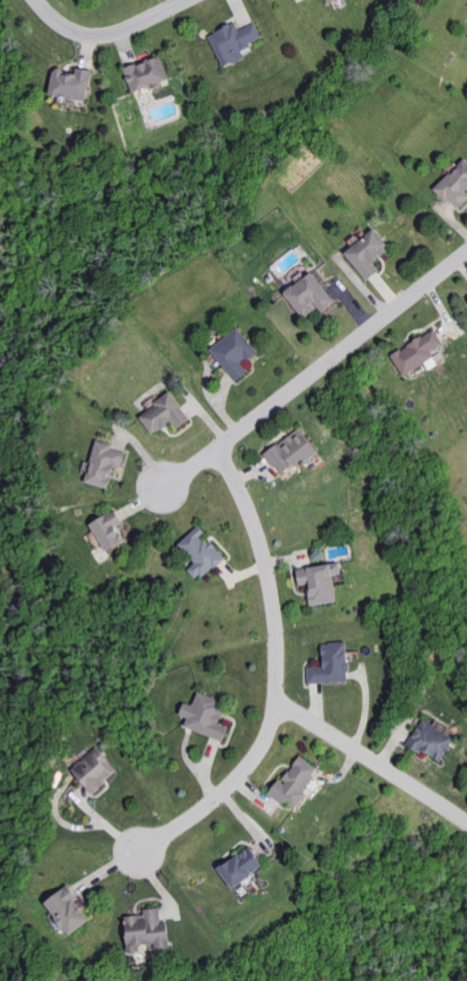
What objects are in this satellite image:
building: (328, 0)
road: (109, 37)
building: (233, 41)
building: (146, 73)
building: (70, 83)
building: (455, 185)
building: (368, 253)
road: (463, 266)
building: (308, 295)
building: (234, 352)
building: (417, 352)
road: (317, 371)
building: (164, 414)
building: (290, 451)
building: (104, 464)
building: (107, 530)
building: (200, 553)
building: (320, 582)
building: (331, 665)
road: (276, 674)
building: (205, 716)
building: (432, 741)
road: (371, 762)
building: (94, 770)
building: (294, 784)
building: (240, 868)
building: (66, 910)
building: (146, 931)

